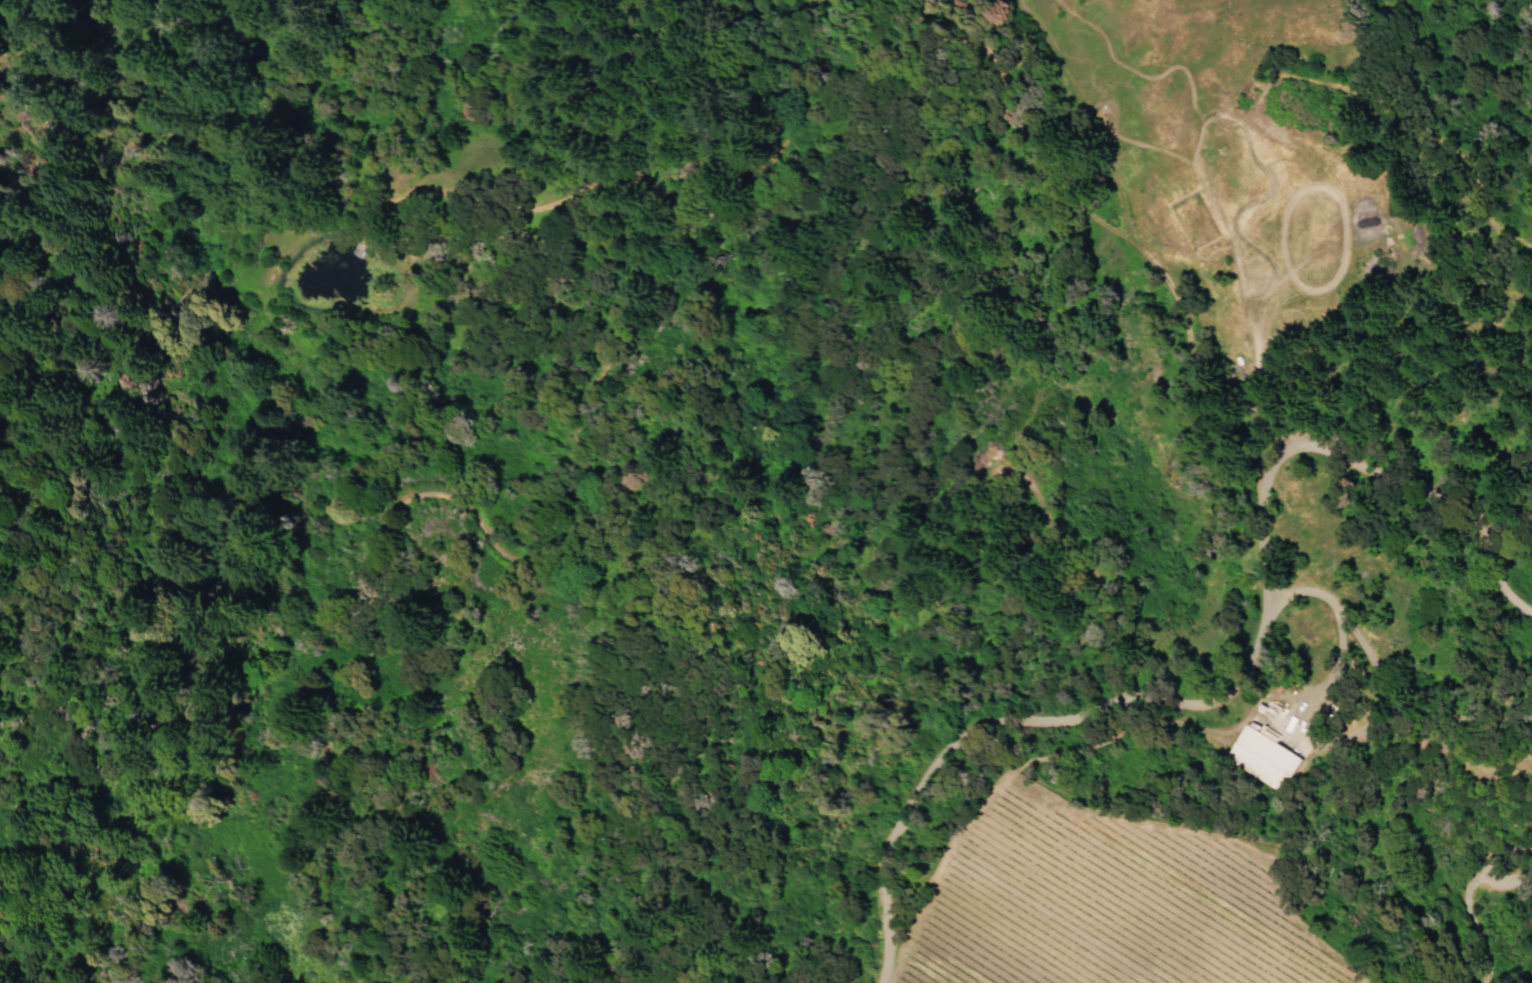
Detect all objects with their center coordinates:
road: (1449, 542)
road: (1338, 629)
road: (1129, 694)
building: (1262, 758)
road: (1463, 902)

